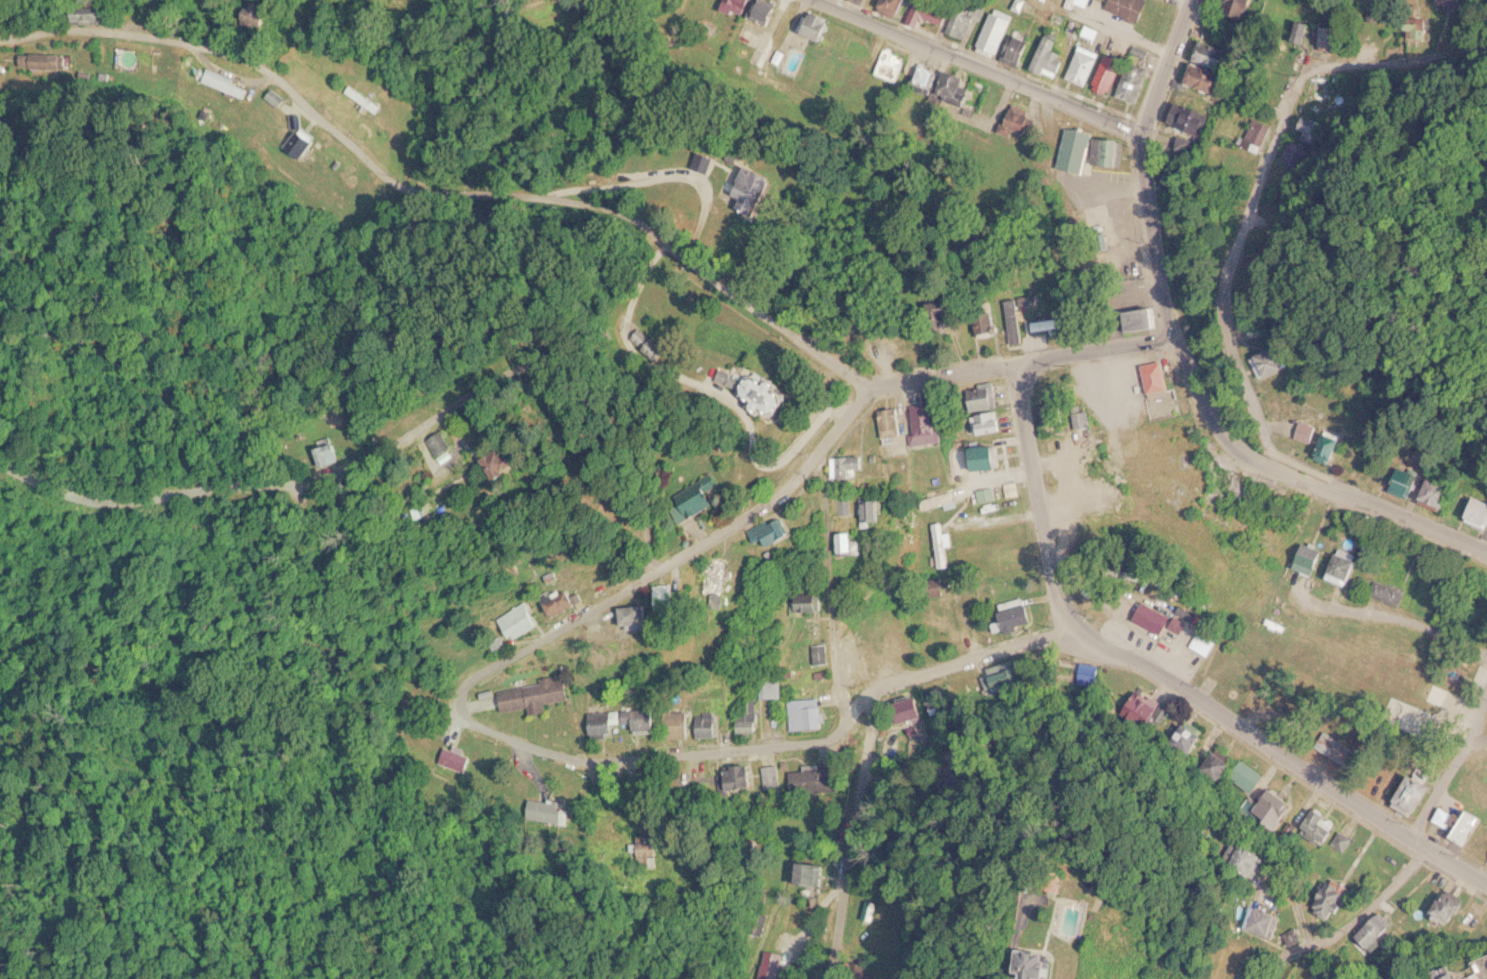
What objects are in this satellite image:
building: (1081, 3)
building: (740, 6)
building: (1241, 7)
building: (1130, 8)
building: (773, 12)
building: (941, 14)
building: (92, 15)
road: (1099, 26)
building: (1300, 32)
building: (996, 33)
building: (1329, 38)
building: (1018, 50)
building: (1052, 56)
building: (891, 64)
building: (1085, 65)
road: (982, 68)
building: (1205, 70)
building: (1112, 74)
building: (927, 75)
building: (227, 83)
building: (958, 85)
building: (278, 97)
building: (365, 100)
building: (1187, 117)
building: (1018, 119)
building: (1257, 133)
building: (302, 142)
building: (1078, 149)
building: (1110, 150)
building: (708, 160)
road: (439, 188)
road: (1235, 258)
building: (948, 318)
building: (1055, 322)
building: (990, 324)
building: (1263, 329)
road: (1185, 358)
building: (1275, 360)
building: (735, 376)
building: (1158, 377)
building: (772, 391)
building: (990, 395)
building: (1081, 415)
building: (1056, 416)
building: (895, 421)
building: (934, 422)
building: (998, 428)
building: (1309, 431)
building: (456, 441)
road: (405, 446)
building: (1333, 446)
building: (336, 454)
building: (991, 456)
building: (526, 460)
building: (854, 464)
road: (802, 473)
building: (1407, 480)
building: (1439, 493)
building: (988, 494)
building: (703, 496)
road: (1038, 498)
building: (940, 499)
building: (1249, 503)
building: (1479, 509)
building: (879, 511)
building: (780, 531)
building: (856, 542)
building: (943, 544)
building: (1313, 558)
building: (1346, 568)
building: (720, 577)
building: (1479, 578)
road: (831, 579)
building: (937, 588)
building: (1388, 591)
building: (670, 593)
building: (567, 601)
building: (814, 601)
road: (1392, 616)
building: (640, 617)
building: (1017, 617)
building: (523, 621)
building: (1207, 643)
building: (823, 653)
road: (959, 661)
building: (1007, 677)
building: (775, 686)
building: (539, 694)
park: (1361, 702)
building: (1145, 707)
building: (915, 710)
building: (807, 713)
building: (752, 718)
building: (626, 721)
building: (683, 724)
building: (711, 724)
road: (523, 740)
building: (1340, 749)
road: (717, 753)
road: (1283, 753)
building: (456, 758)
building: (1220, 760)
road: (1452, 764)
building: (771, 775)
building: (1251, 775)
building: (743, 776)
building: (810, 779)
building: (1419, 790)
building: (1277, 807)
building: (548, 810)
building: (1476, 823)
building: (1320, 826)
road: (835, 840)
building: (654, 852)
building: (1259, 860)
building: (813, 873)
building: (1454, 905)
road: (1350, 909)
building: (1276, 920)
building: (1375, 931)
building: (1056, 964)
building: (771, 965)
building: (1470, 976)

